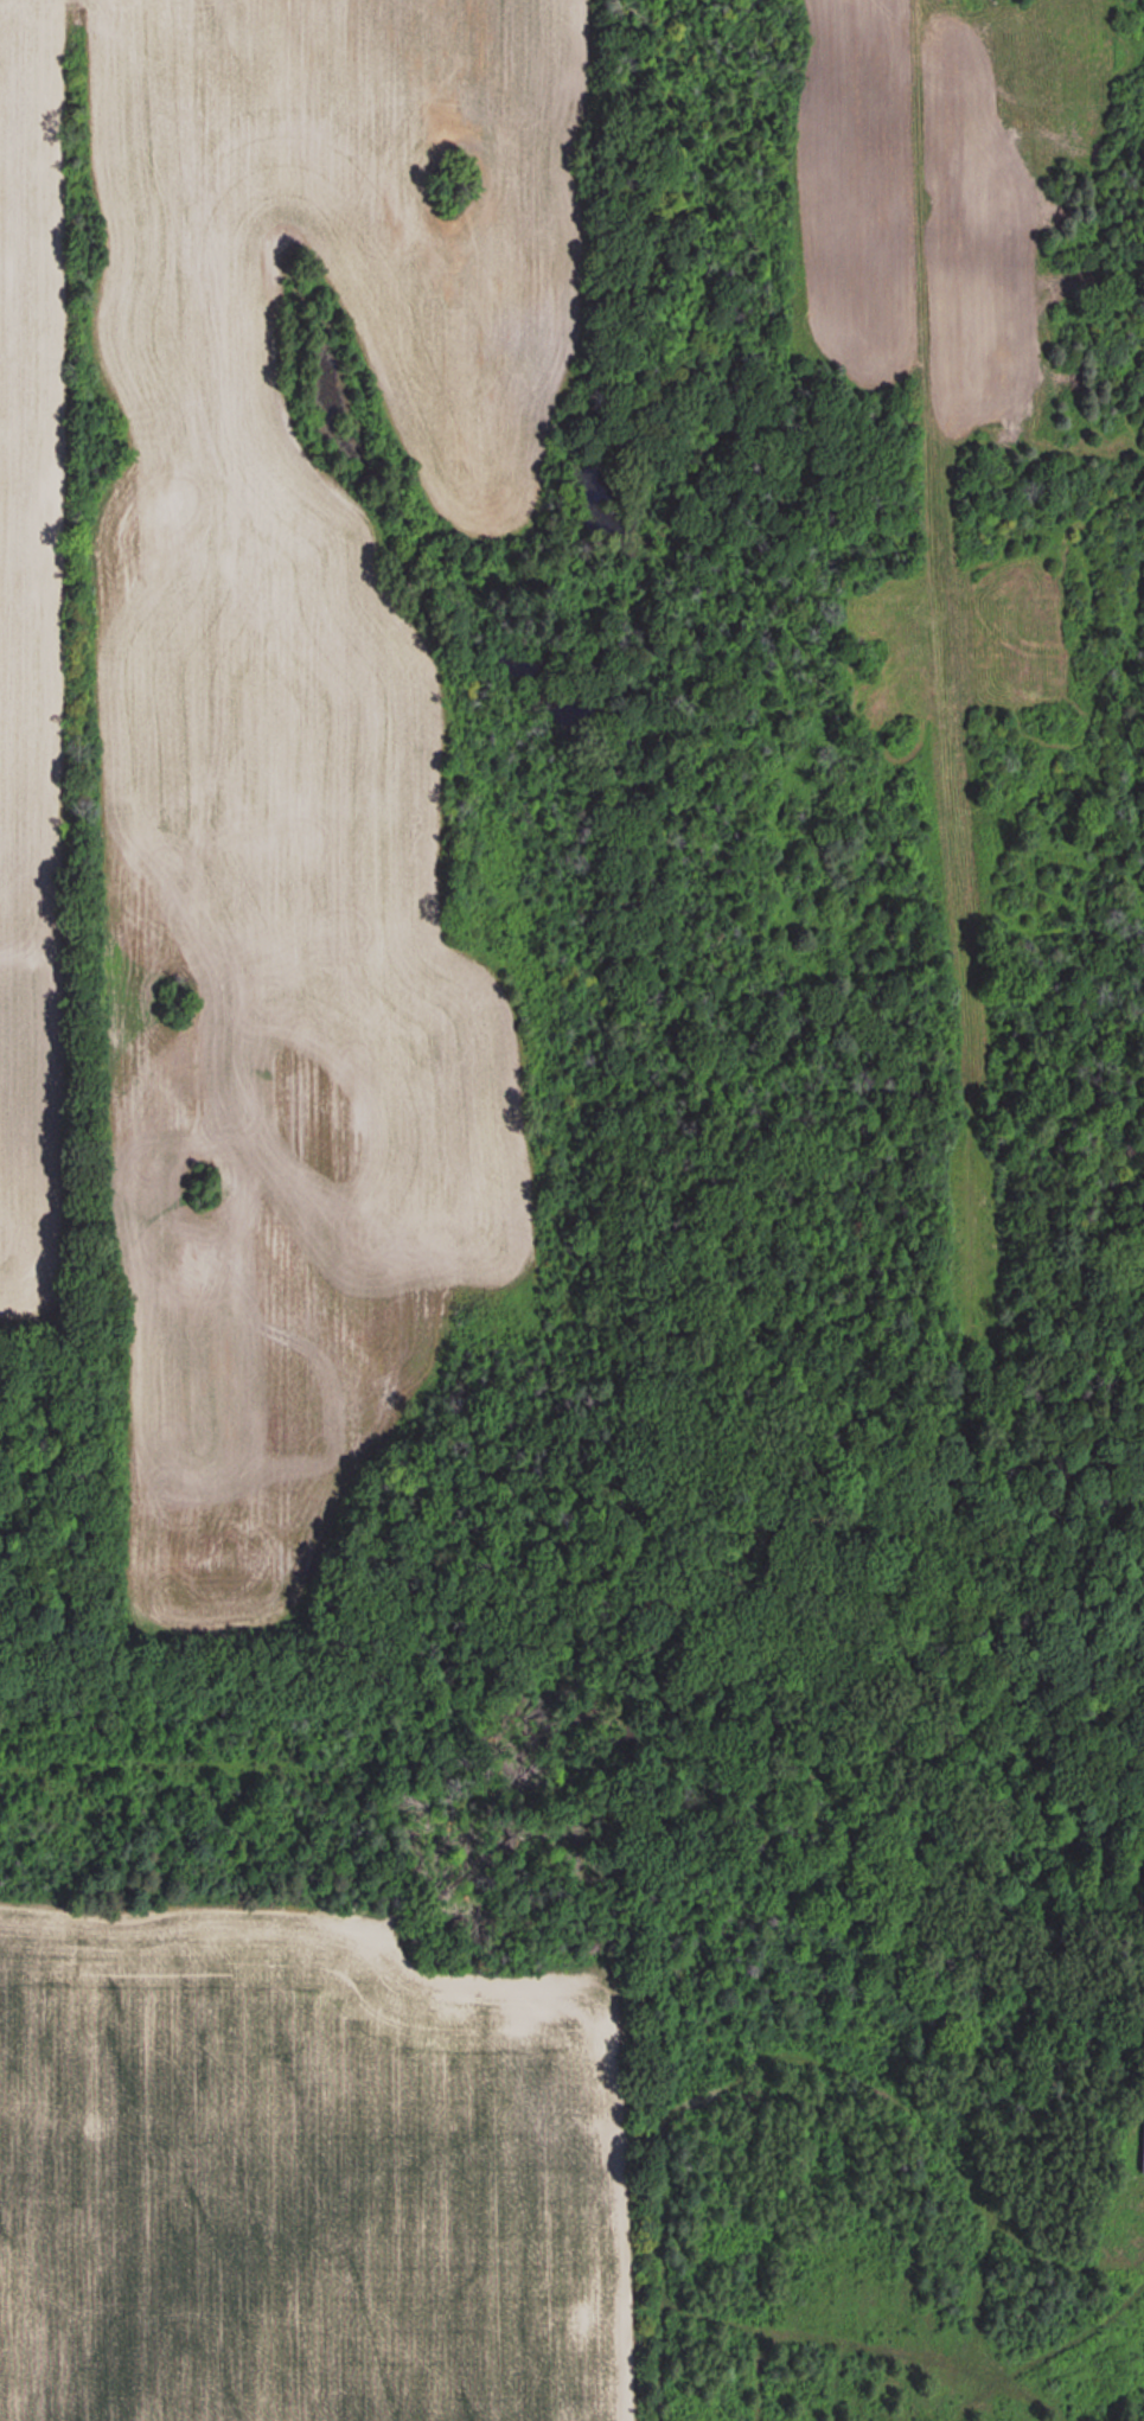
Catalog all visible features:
building: (1142, 2149)

